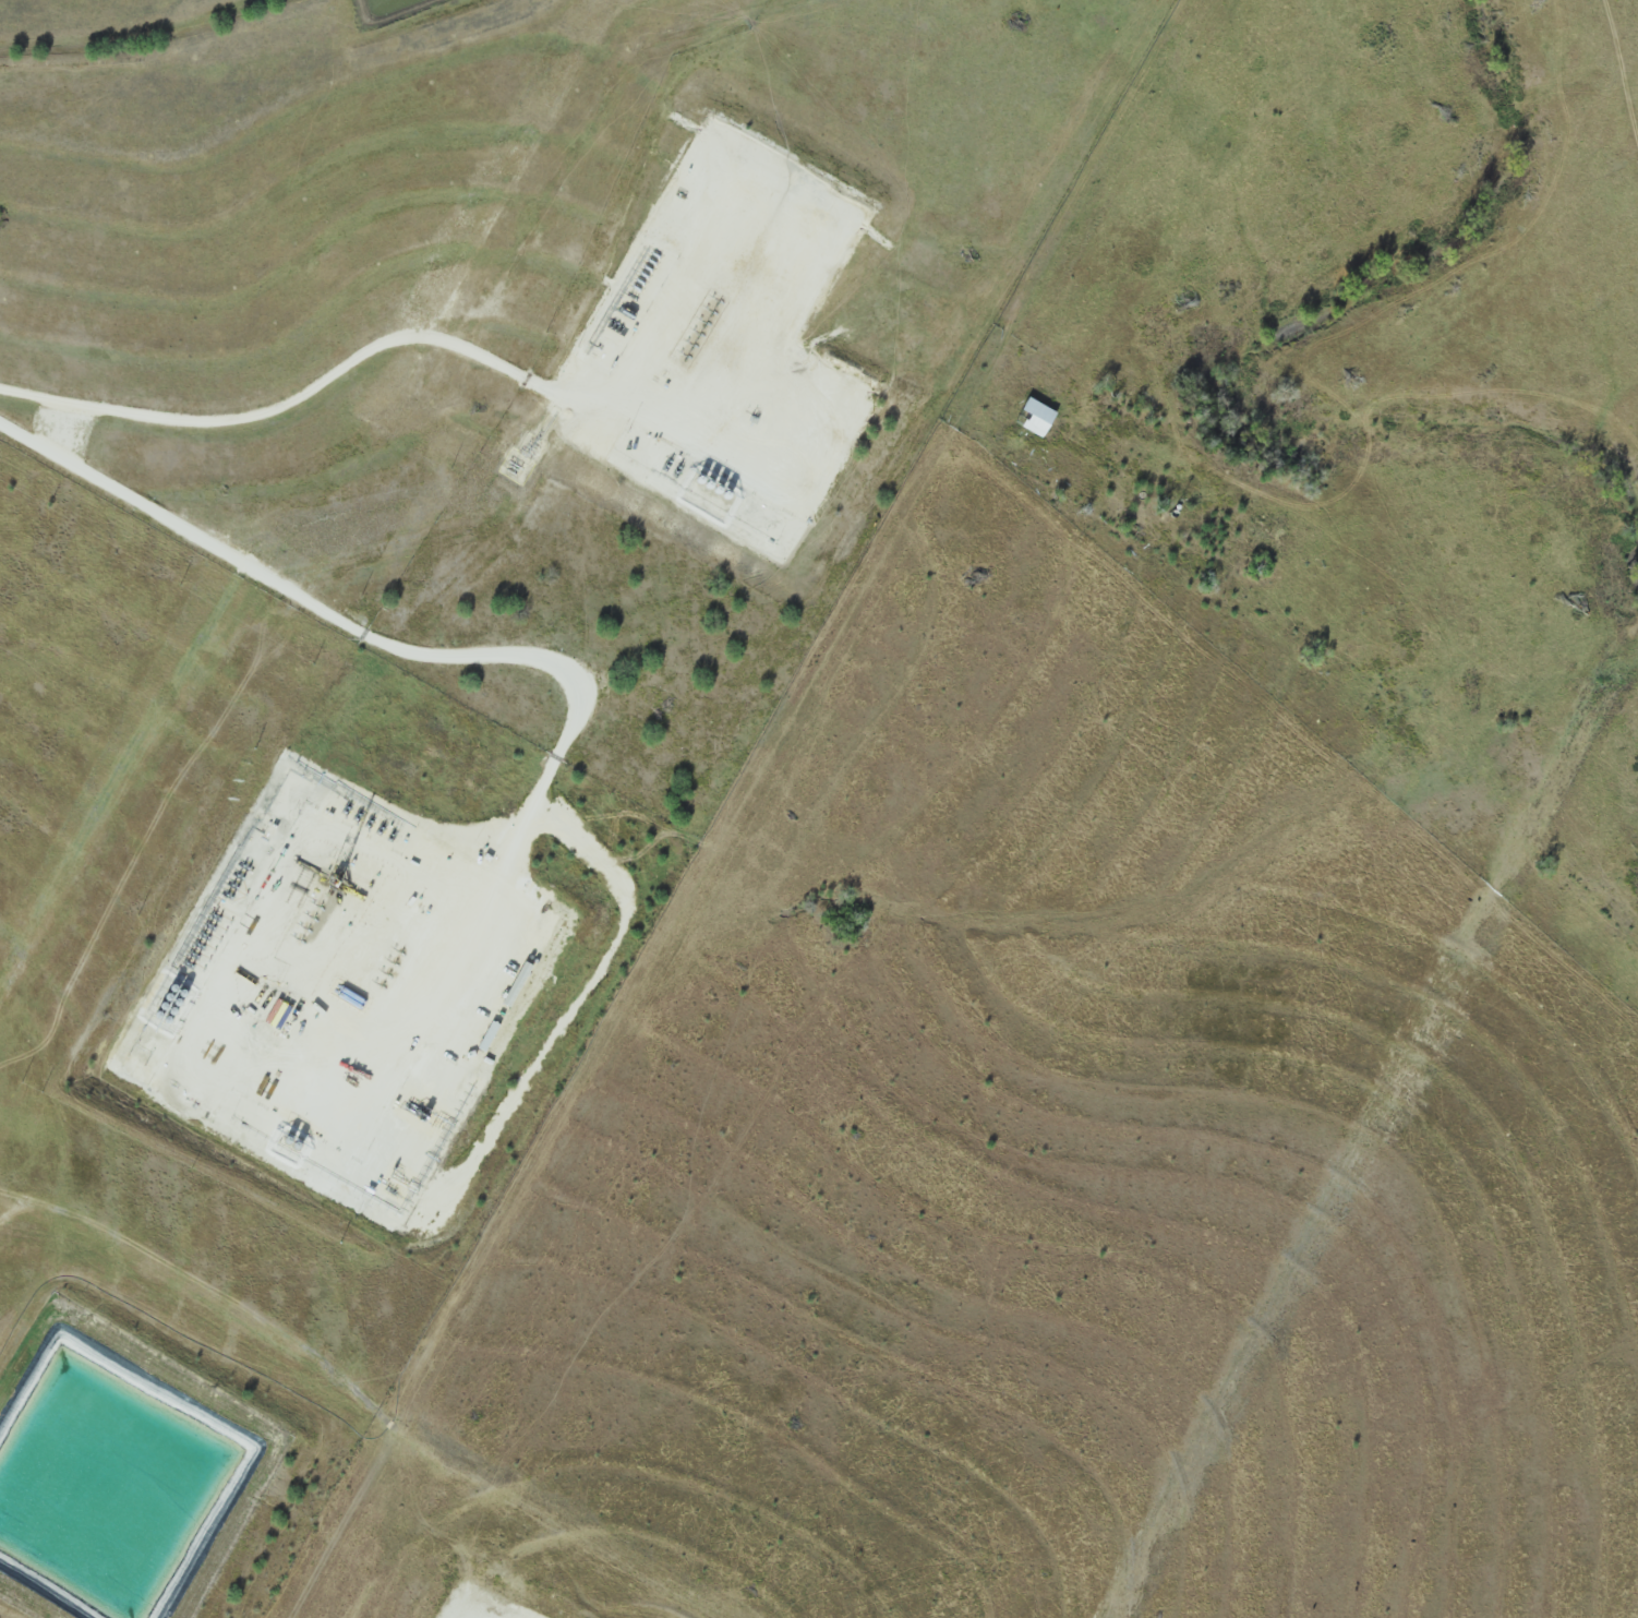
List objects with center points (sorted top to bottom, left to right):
road: (301, 392)
building: (1041, 418)
road: (550, 661)

